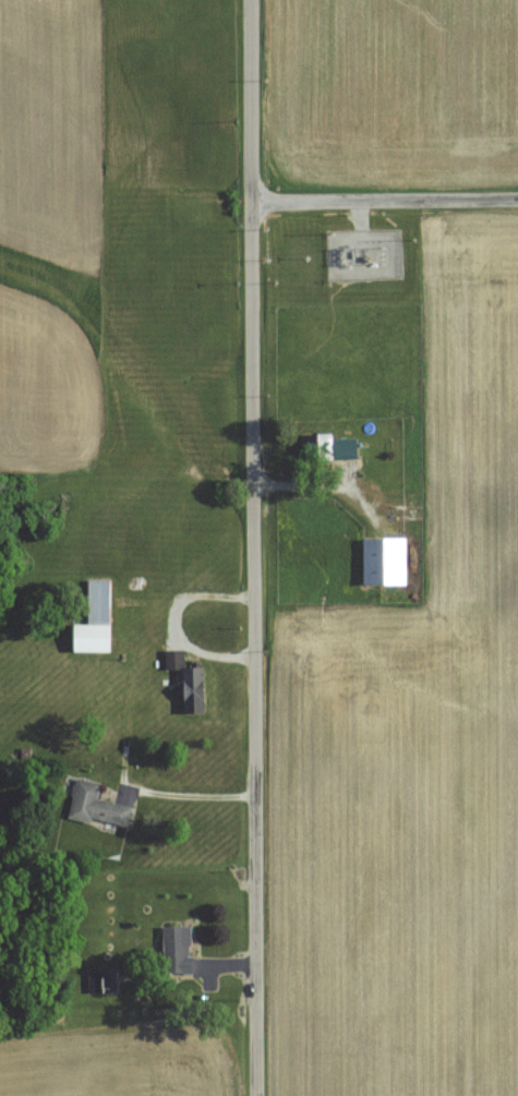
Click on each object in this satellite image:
road: (385, 198)
power substation: (368, 257)
building: (315, 447)
road: (324, 479)
road: (254, 547)
building: (381, 561)
building: (88, 633)
building: (189, 688)
road: (197, 792)

